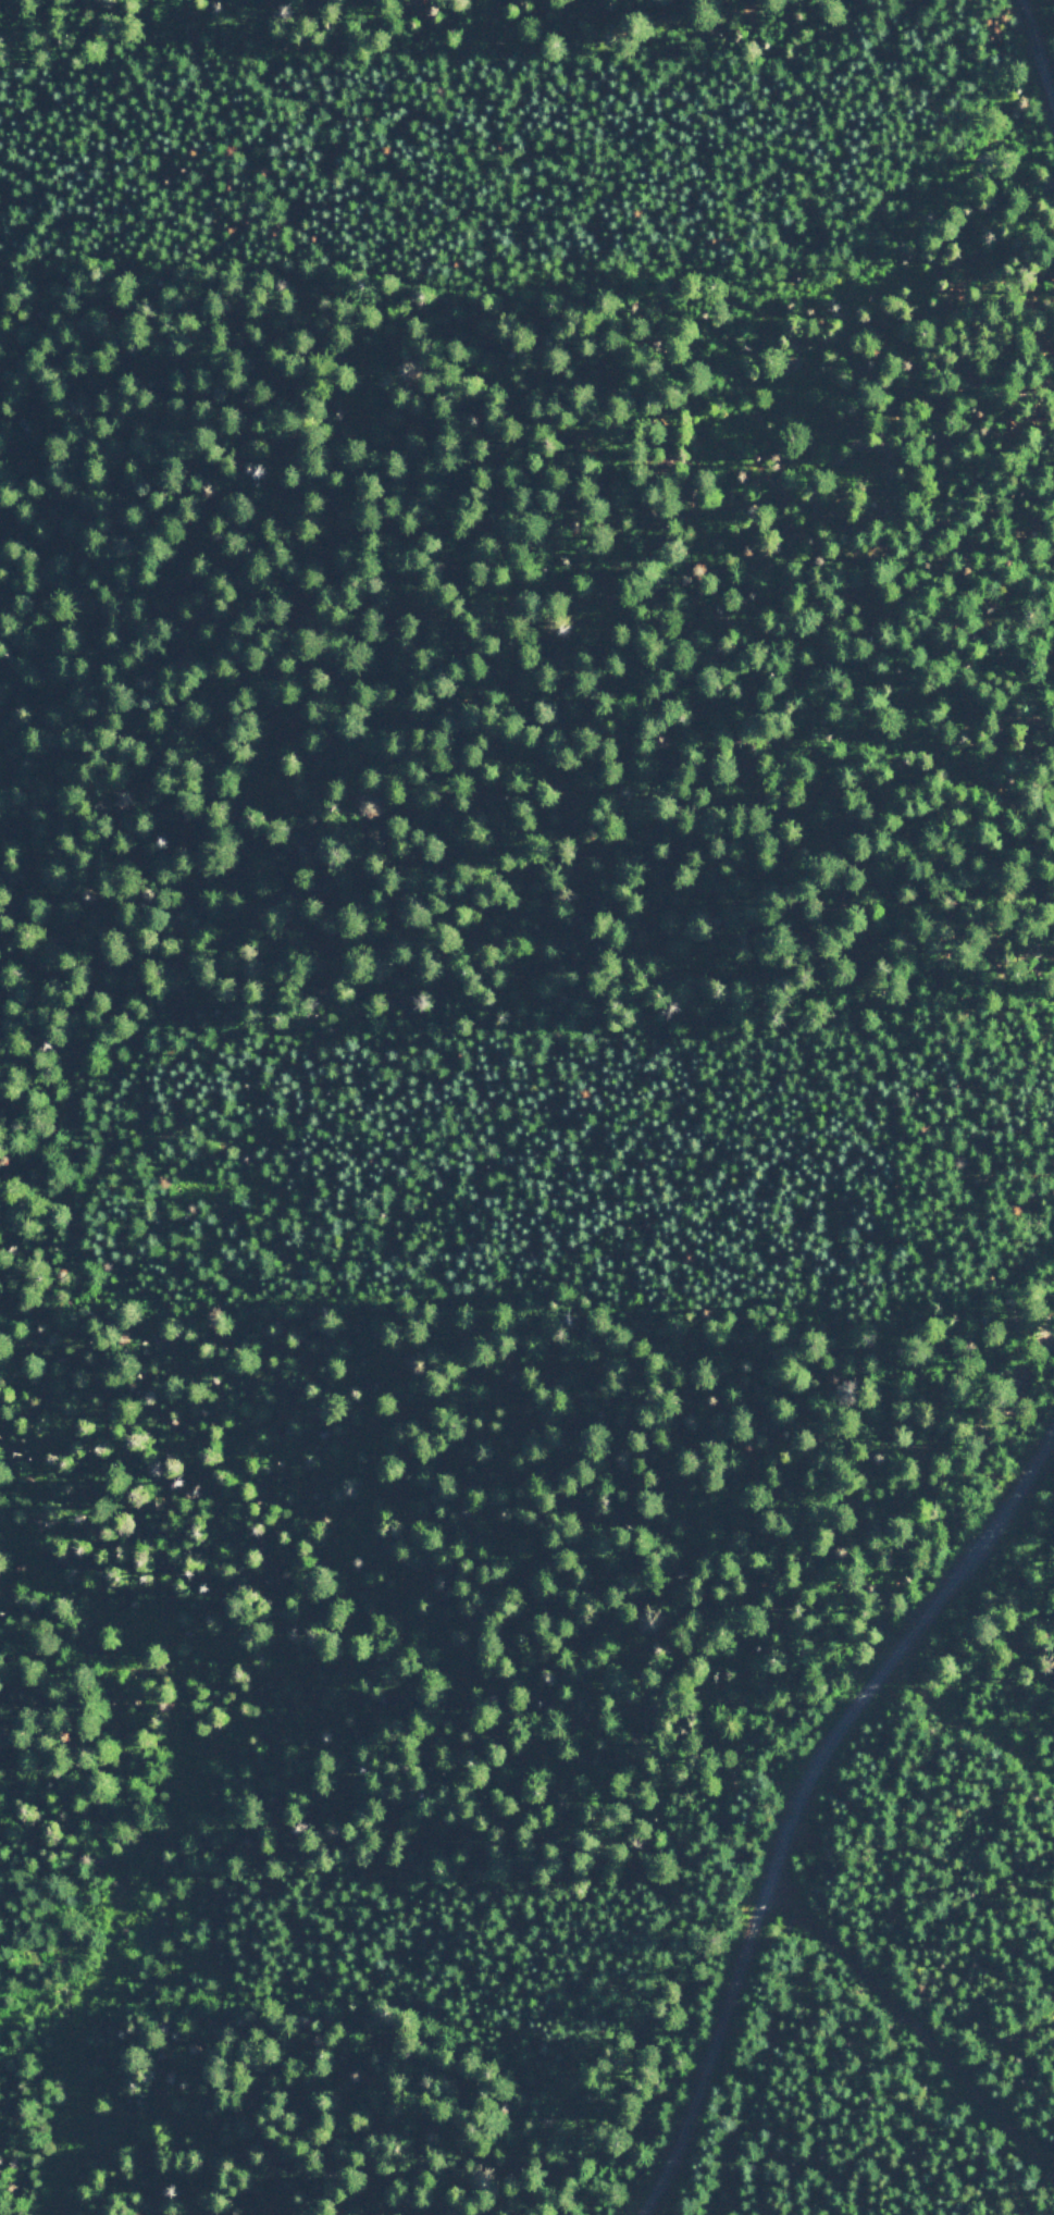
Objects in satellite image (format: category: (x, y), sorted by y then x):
road: (1010, 102)
road: (832, 1784)

